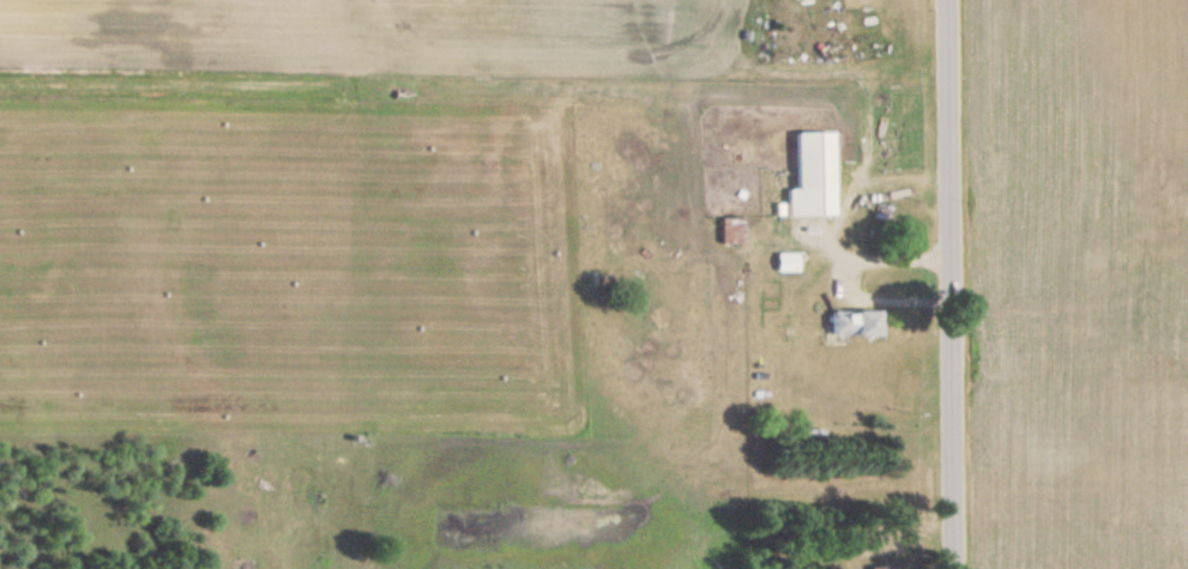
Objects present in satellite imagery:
building: (812, 177)
road: (935, 284)
building: (855, 326)

